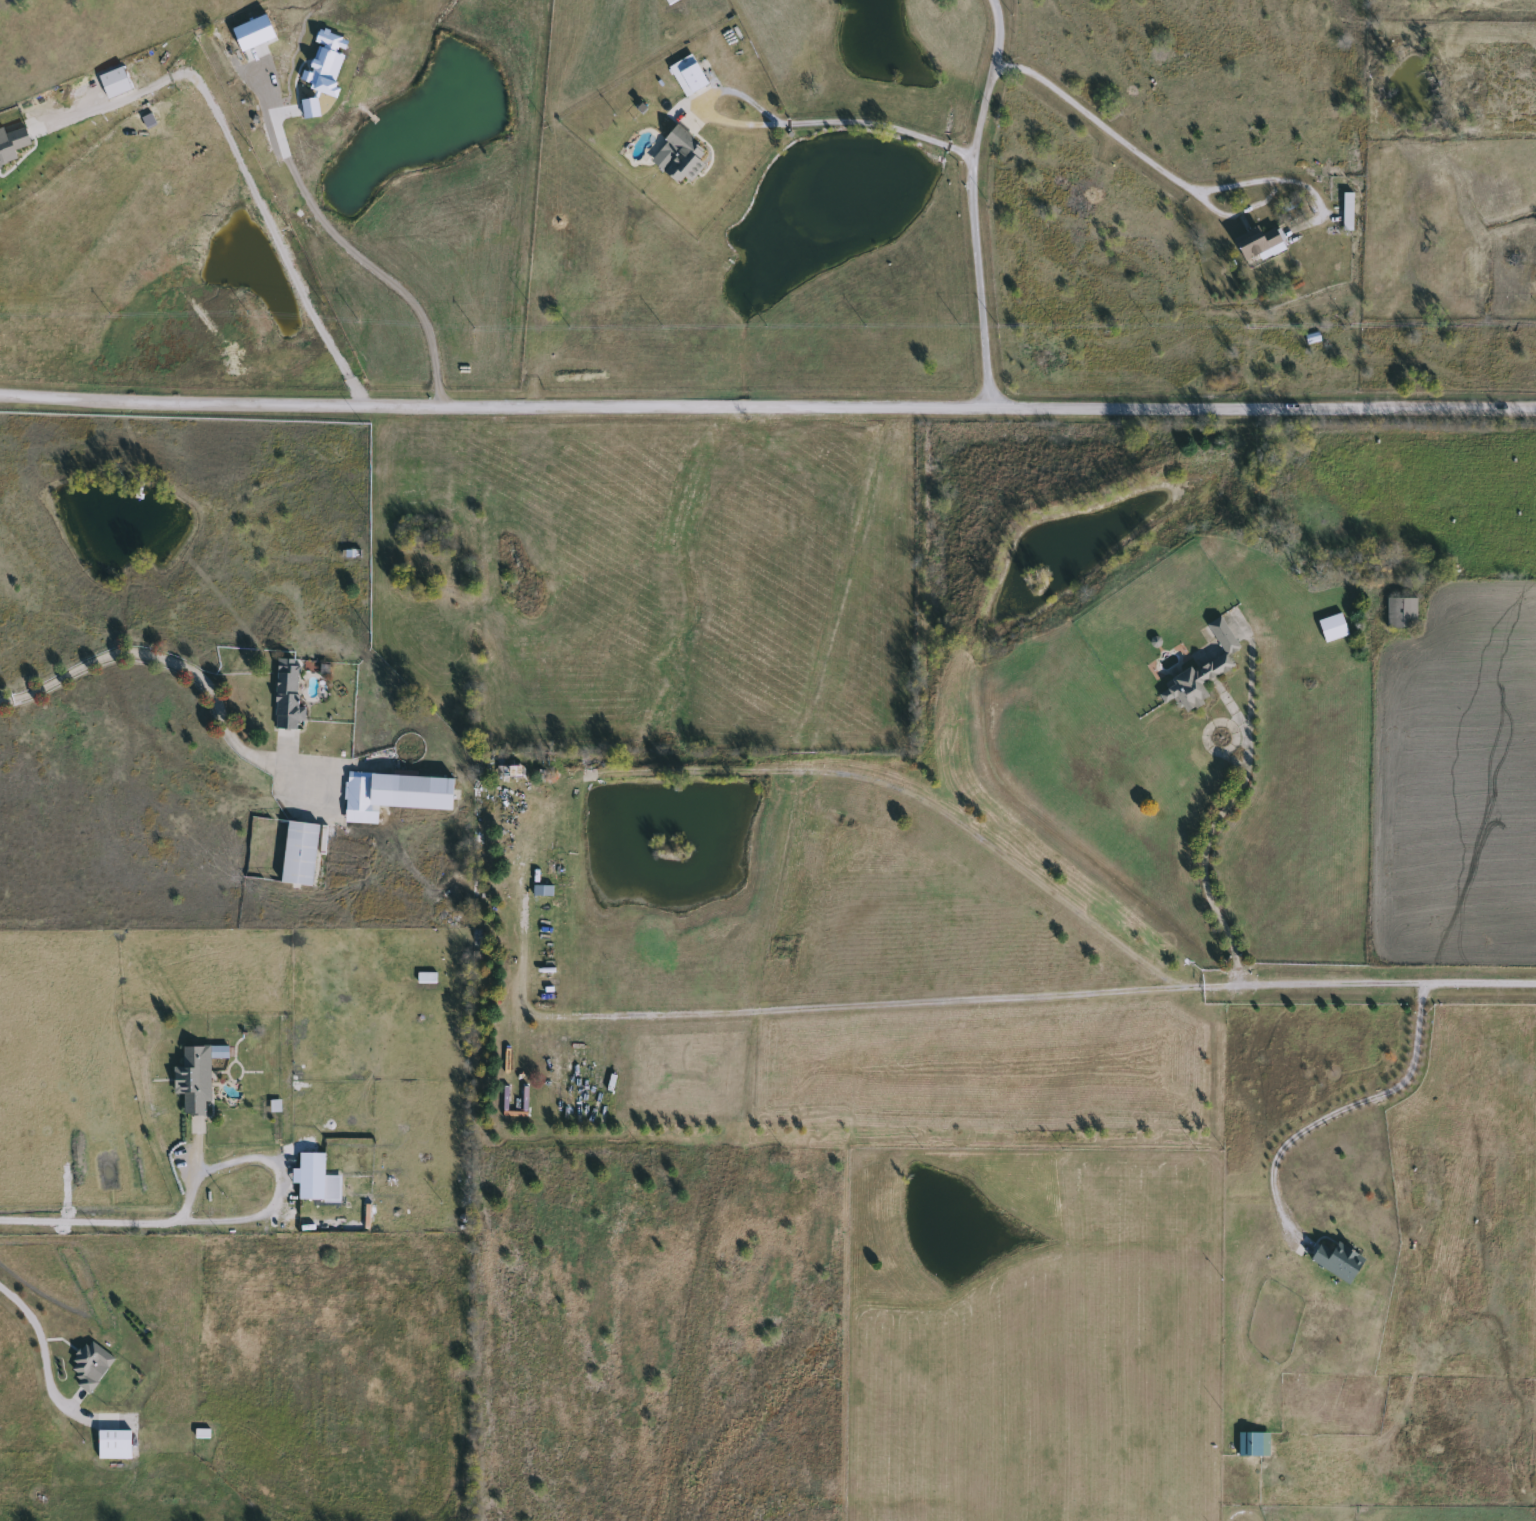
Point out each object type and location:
building: (687, 75)
road: (856, 121)
building: (681, 156)
road: (247, 175)
road: (1171, 176)
road: (969, 202)
building: (1346, 211)
building: (1257, 243)
road: (364, 266)
road: (767, 407)
building: (1400, 613)
building: (1331, 627)
road: (151, 656)
building: (1202, 666)
road: (1252, 687)
building: (284, 693)
building: (391, 794)
road: (1205, 845)
building: (303, 854)
building: (425, 978)
road: (1385, 986)
road: (880, 1003)
building: (192, 1079)
road: (1337, 1110)
building: (309, 1176)
road: (177, 1219)
road: (229, 1219)
building: (1335, 1261)
road: (38, 1344)
building: (87, 1365)
building: (202, 1434)
building: (1252, 1444)

